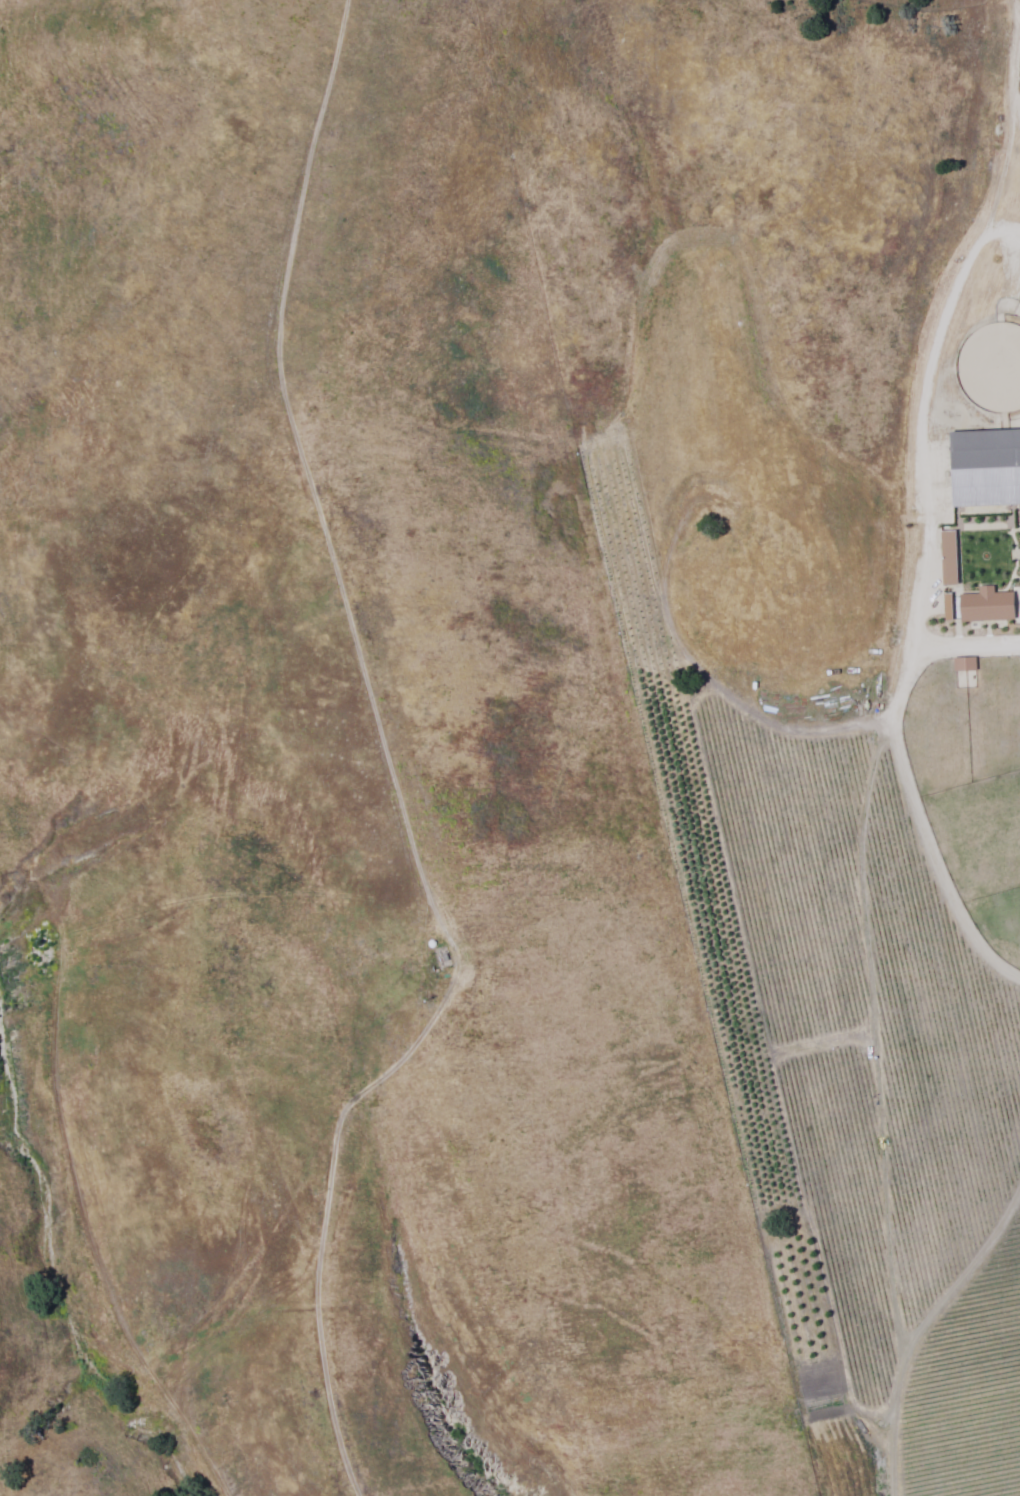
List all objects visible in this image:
building: (985, 466)
building: (948, 557)
building: (986, 604)
building: (964, 663)

